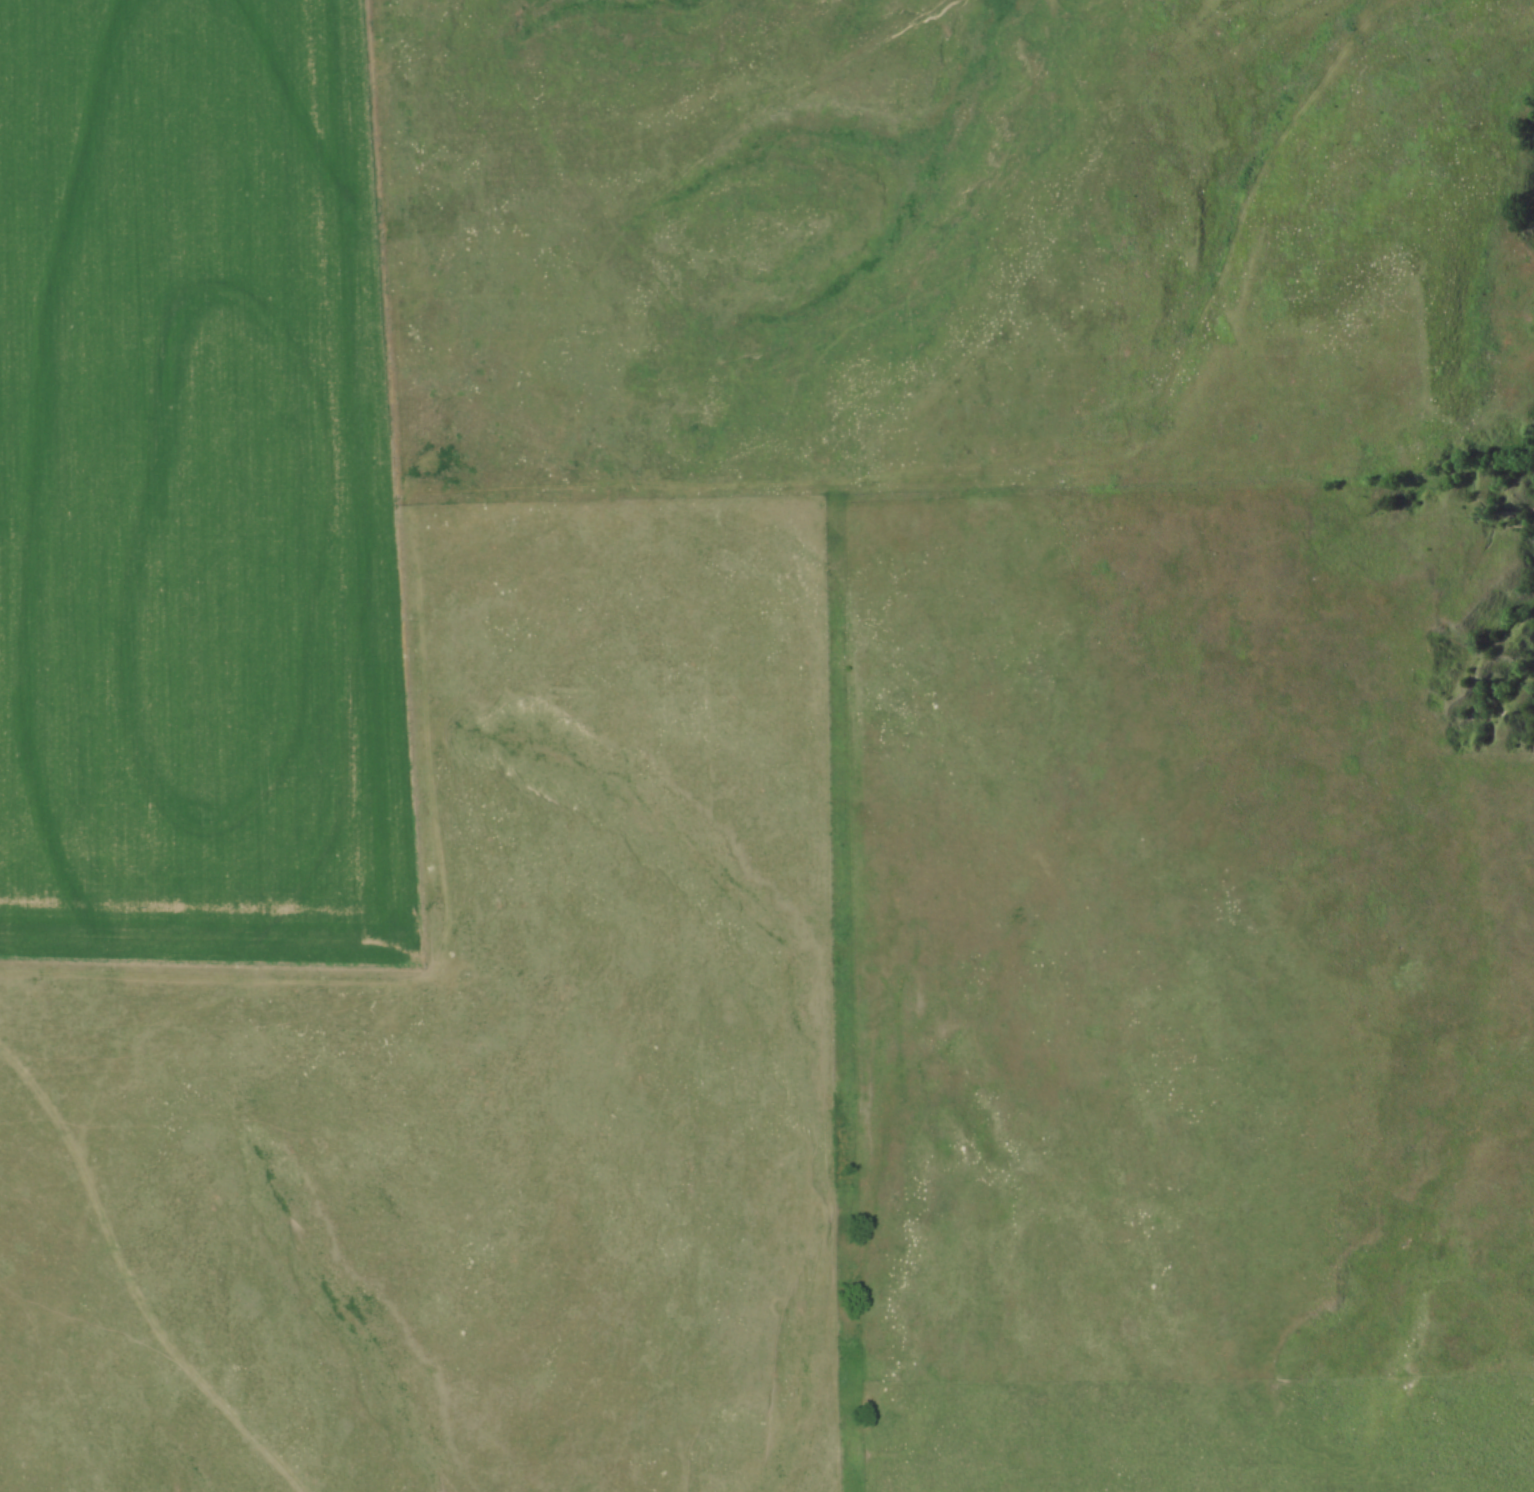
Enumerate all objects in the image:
crop: (200, 496)

